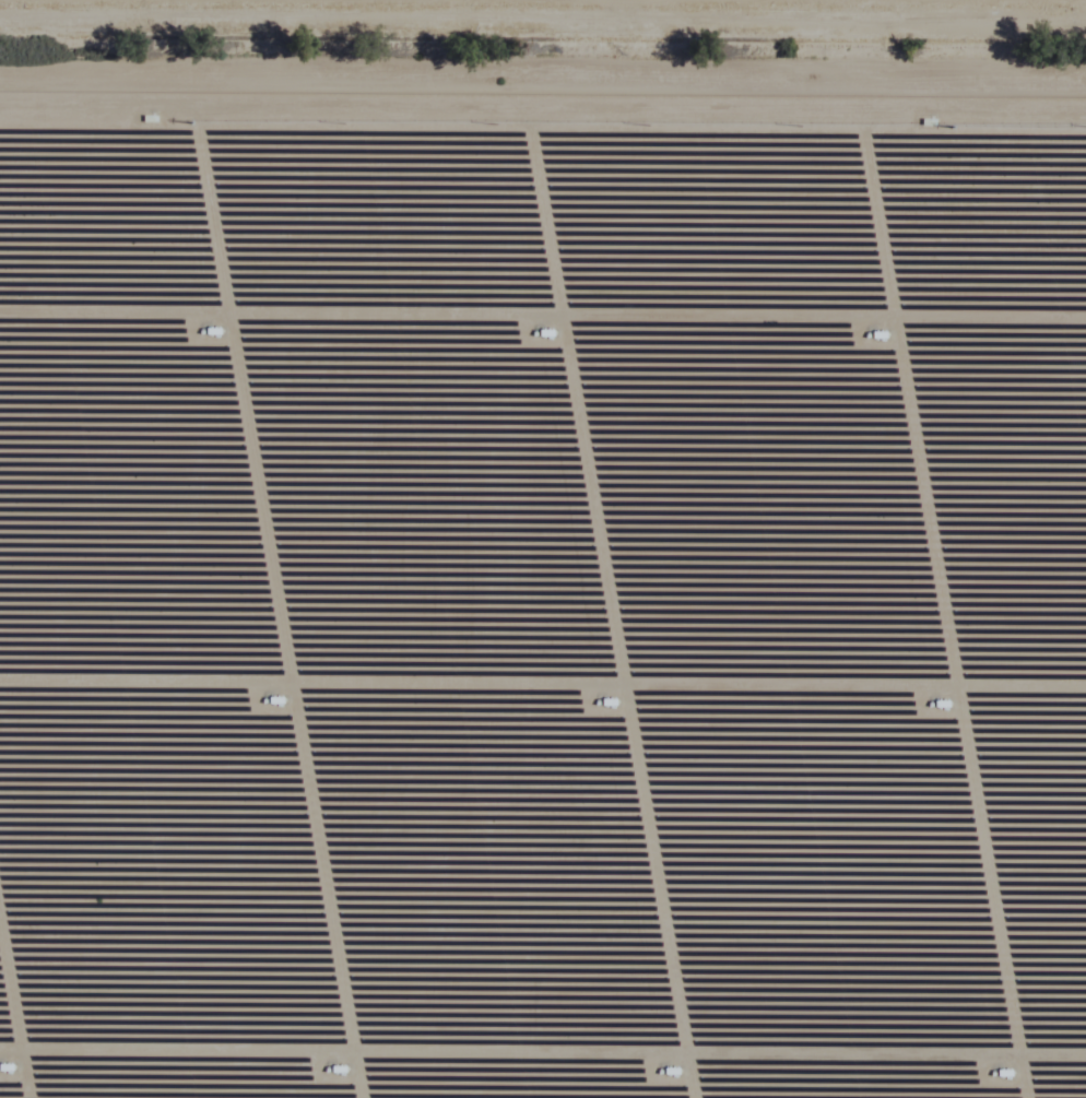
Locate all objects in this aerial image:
solar farm: (542, 594)

